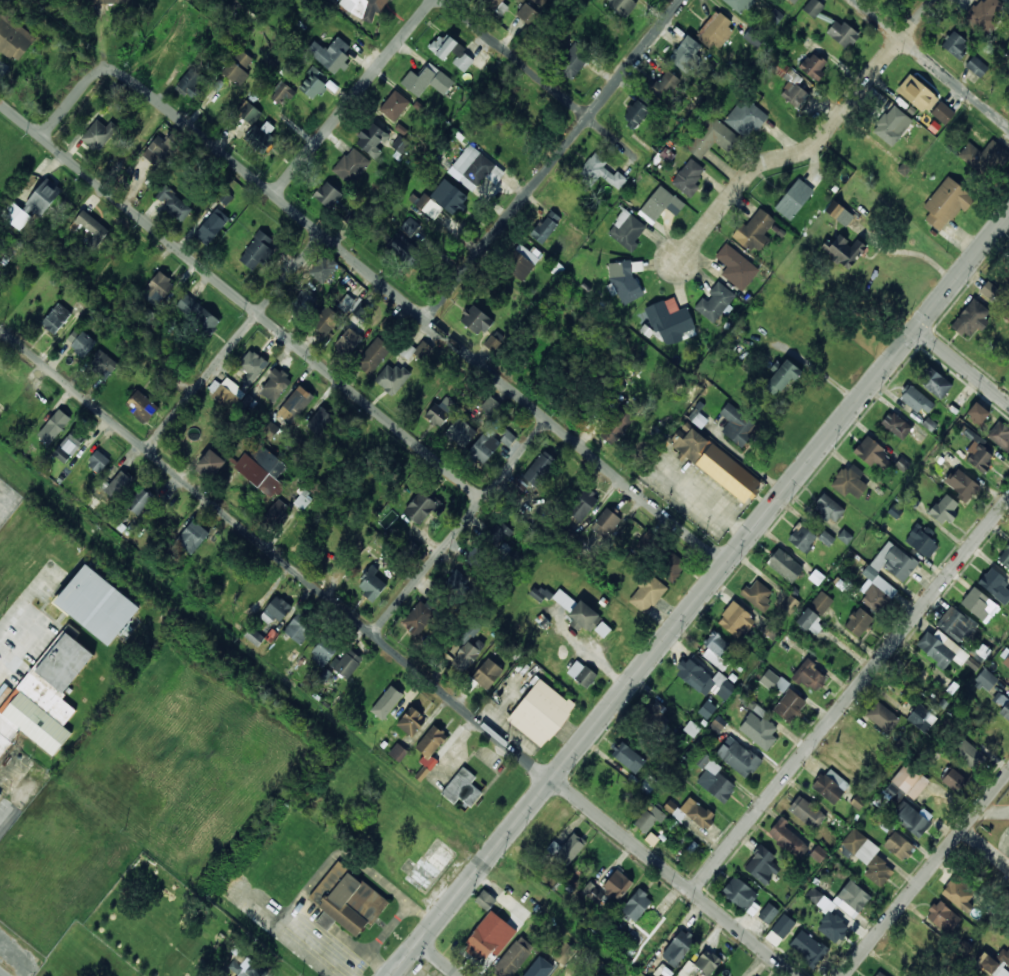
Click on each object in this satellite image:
building: (1007, 0)
building: (110, 1)
building: (540, 1)
building: (794, 1)
building: (739, 5)
building: (497, 6)
building: (622, 6)
building: (813, 7)
building: (365, 8)
building: (527, 13)
building: (986, 13)
building: (775, 16)
building: (716, 31)
building: (842, 33)
building: (13, 37)
building: (955, 44)
road: (501, 45)
building: (452, 52)
building: (330, 53)
building: (686, 54)
building: (574, 60)
road: (932, 62)
building: (813, 66)
building: (977, 66)
building: (238, 67)
building: (190, 81)
building: (427, 81)
building: (313, 82)
building: (665, 84)
building: (792, 84)
building: (282, 92)
building: (917, 94)
road: (354, 97)
building: (394, 105)
building: (249, 112)
building: (943, 112)
building: (636, 113)
building: (745, 118)
building: (892, 125)
building: (99, 135)
building: (261, 137)
building: (712, 138)
building: (372, 140)
road: (814, 143)
building: (161, 149)
road: (554, 159)
building: (984, 159)
building: (472, 166)
building: (351, 167)
building: (600, 173)
building: (688, 177)
building: (327, 196)
building: (225, 197)
building: (43, 198)
building: (443, 199)
building: (793, 200)
building: (566, 202)
building: (175, 203)
building: (660, 204)
building: (944, 206)
building: (17, 216)
building: (545, 227)
building: (93, 229)
building: (211, 229)
building: (414, 231)
building: (626, 231)
building: (754, 232)
building: (399, 244)
building: (255, 251)
building: (844, 252)
building: (1, 253)
building: (415, 254)
building: (519, 263)
building: (322, 268)
building: (736, 268)
road: (381, 282)
building: (624, 283)
building: (161, 287)
building: (990, 290)
road: (241, 300)
building: (775, 300)
building: (347, 303)
building: (715, 303)
building: (301, 304)
building: (198, 314)
building: (363, 314)
building: (56, 318)
building: (969, 320)
building: (324, 321)
building: (474, 321)
building: (669, 322)
traffic signals: (917, 329)
building: (350, 335)
building: (80, 341)
road: (234, 343)
building: (492, 343)
building: (372, 356)
building: (103, 364)
building: (403, 365)
road: (963, 366)
building: (249, 368)
building: (779, 378)
building: (933, 383)
building: (274, 385)
building: (226, 392)
building: (915, 400)
building: (295, 404)
building: (143, 407)
building: (490, 407)
building: (440, 413)
building: (977, 414)
building: (698, 419)
building: (320, 423)
building: (736, 424)
building: (54, 426)
building: (895, 426)
building: (615, 427)
building: (267, 429)
building: (460, 433)
building: (1000, 435)
building: (507, 438)
building: (68, 448)
building: (482, 449)
building: (870, 454)
building: (977, 458)
building: (214, 459)
building: (98, 462)
building: (713, 464)
building: (261, 471)
building: (533, 473)
building: (847, 484)
building: (120, 485)
building: (961, 485)
building: (303, 500)
building: (140, 501)
building: (582, 505)
building: (420, 508)
building: (829, 508)
building: (894, 511)
building: (276, 516)
building: (606, 521)
road: (459, 527)
building: (495, 535)
building: (191, 538)
building: (801, 538)
building: (826, 538)
building: (512, 540)
building: (921, 541)
building: (507, 554)
building: (475, 556)
building: (401, 558)
building: (1005, 560)
building: (893, 562)
building: (668, 566)
building: (783, 566)
road: (714, 579)
building: (456, 580)
building: (995, 585)
building: (370, 586)
building: (540, 595)
building: (645, 595)
building: (757, 595)
building: (874, 599)
building: (789, 604)
building: (979, 604)
building: (93, 605)
building: (276, 611)
building: (814, 611)
building: (418, 618)
building: (581, 618)
building: (735, 621)
building: (857, 623)
building: (955, 625)
building: (299, 628)
building: (602, 629)
building: (770, 631)
building: (254, 636)
building: (324, 650)
building: (467, 650)
building: (937, 650)
building: (716, 652)
road: (394, 656)
building: (1004, 657)
building: (346, 665)
building: (486, 675)
building: (691, 676)
building: (584, 677)
building: (809, 678)
building: (986, 680)
building: (775, 681)
building: (45, 695)
road: (849, 696)
building: (388, 703)
building: (788, 707)
building: (707, 709)
building: (1004, 712)
building: (539, 714)
building: (655, 718)
building: (881, 718)
building: (920, 720)
building: (410, 722)
building: (718, 724)
building: (692, 728)
building: (757, 732)
building: (991, 735)
building: (863, 739)
building: (429, 743)
building: (398, 752)
building: (969, 756)
building: (736, 758)
building: (629, 760)
building: (602, 780)
building: (953, 781)
building: (714, 783)
building: (905, 784)
building: (830, 787)
building: (462, 789)
building: (0, 793)
building: (805, 813)
building: (696, 814)
building: (648, 821)
road: (5, 822)
building: (911, 822)
building: (546, 831)
building: (651, 839)
building: (787, 840)
building: (897, 846)
building: (566, 851)
building: (818, 854)
building: (866, 858)
building: (1007, 858)
building: (430, 865)
building: (760, 866)
road: (926, 874)
building: (616, 886)
building: (594, 893)
building: (739, 896)
building: (957, 897)
building: (852, 898)
building: (347, 900)
building: (485, 900)
building: (635, 906)
building: (768, 915)
building: (942, 917)
building: (831, 927)
building: (779, 930)
building: (922, 940)
building: (481, 941)
building: (807, 947)
building: (677, 949)
building: (564, 953)
building: (512, 958)
road: (405, 959)
road: (438, 959)
building: (700, 963)
building: (996, 964)
building: (533, 972)
building: (241, 974)
building: (878, 974)
road: (0, 975)

